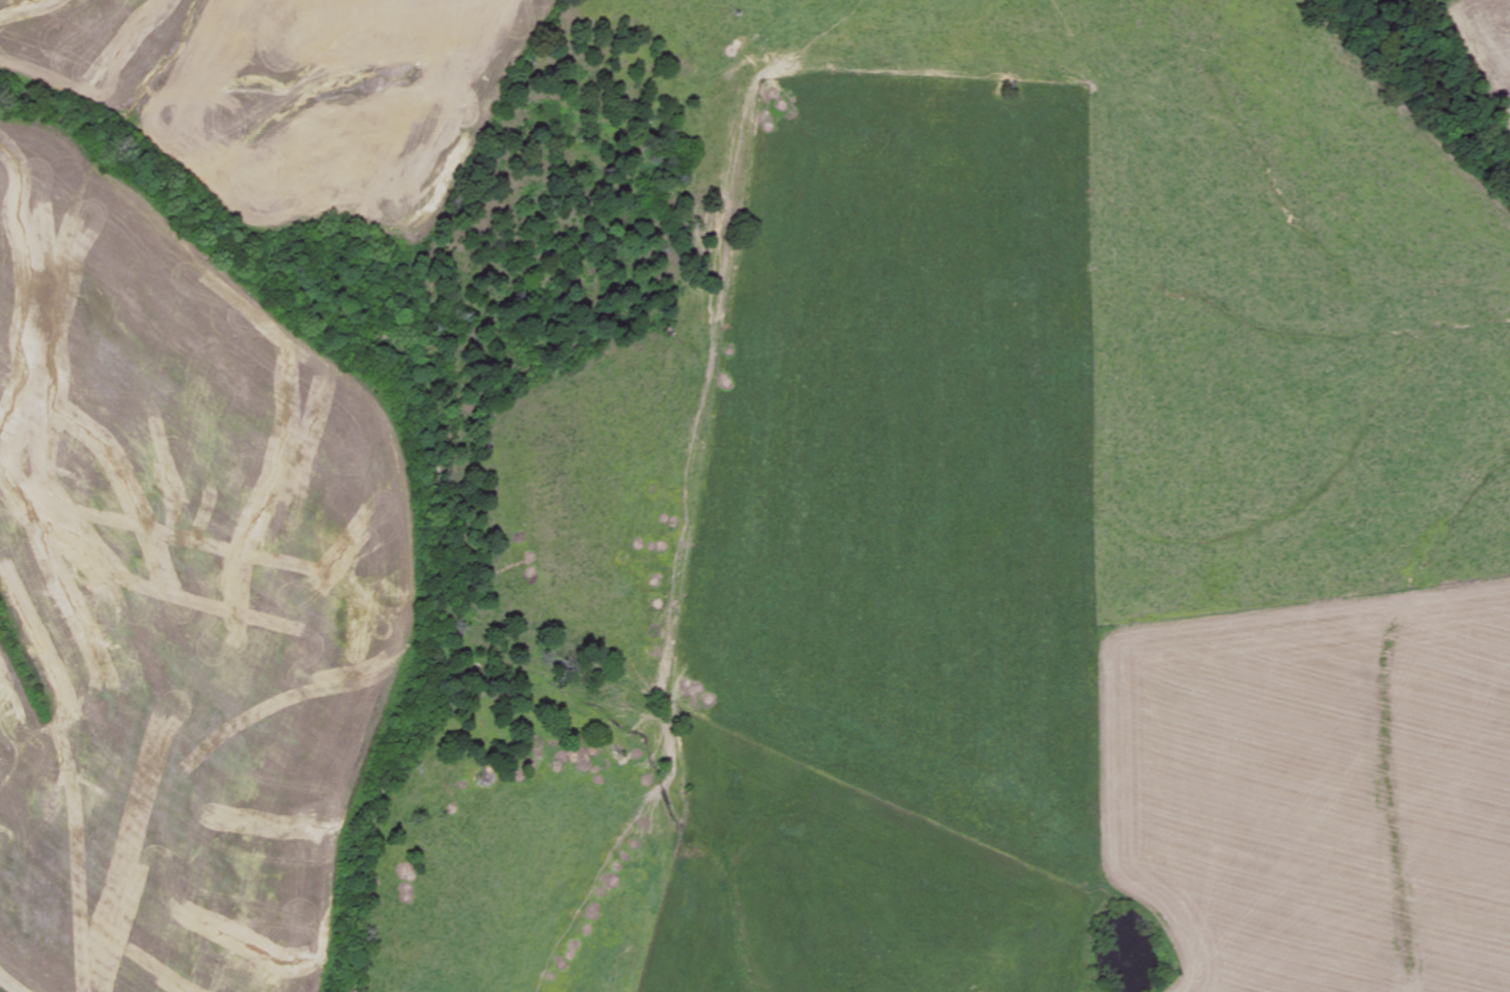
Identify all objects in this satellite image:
road: (1466, 399)

